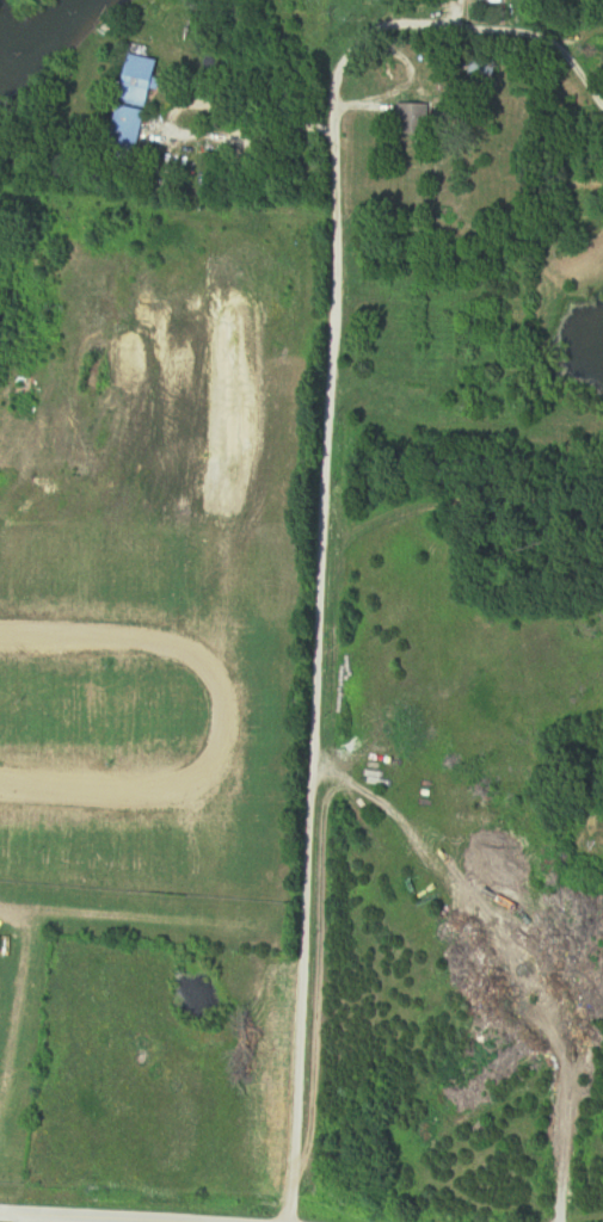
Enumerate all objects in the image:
road: (442, 8)
road: (542, 39)
building: (137, 104)
building: (411, 119)
road: (245, 138)
road: (320, 618)
road: (220, 723)
building: (1, 952)
road: (32, 1220)
road: (42, 1221)

